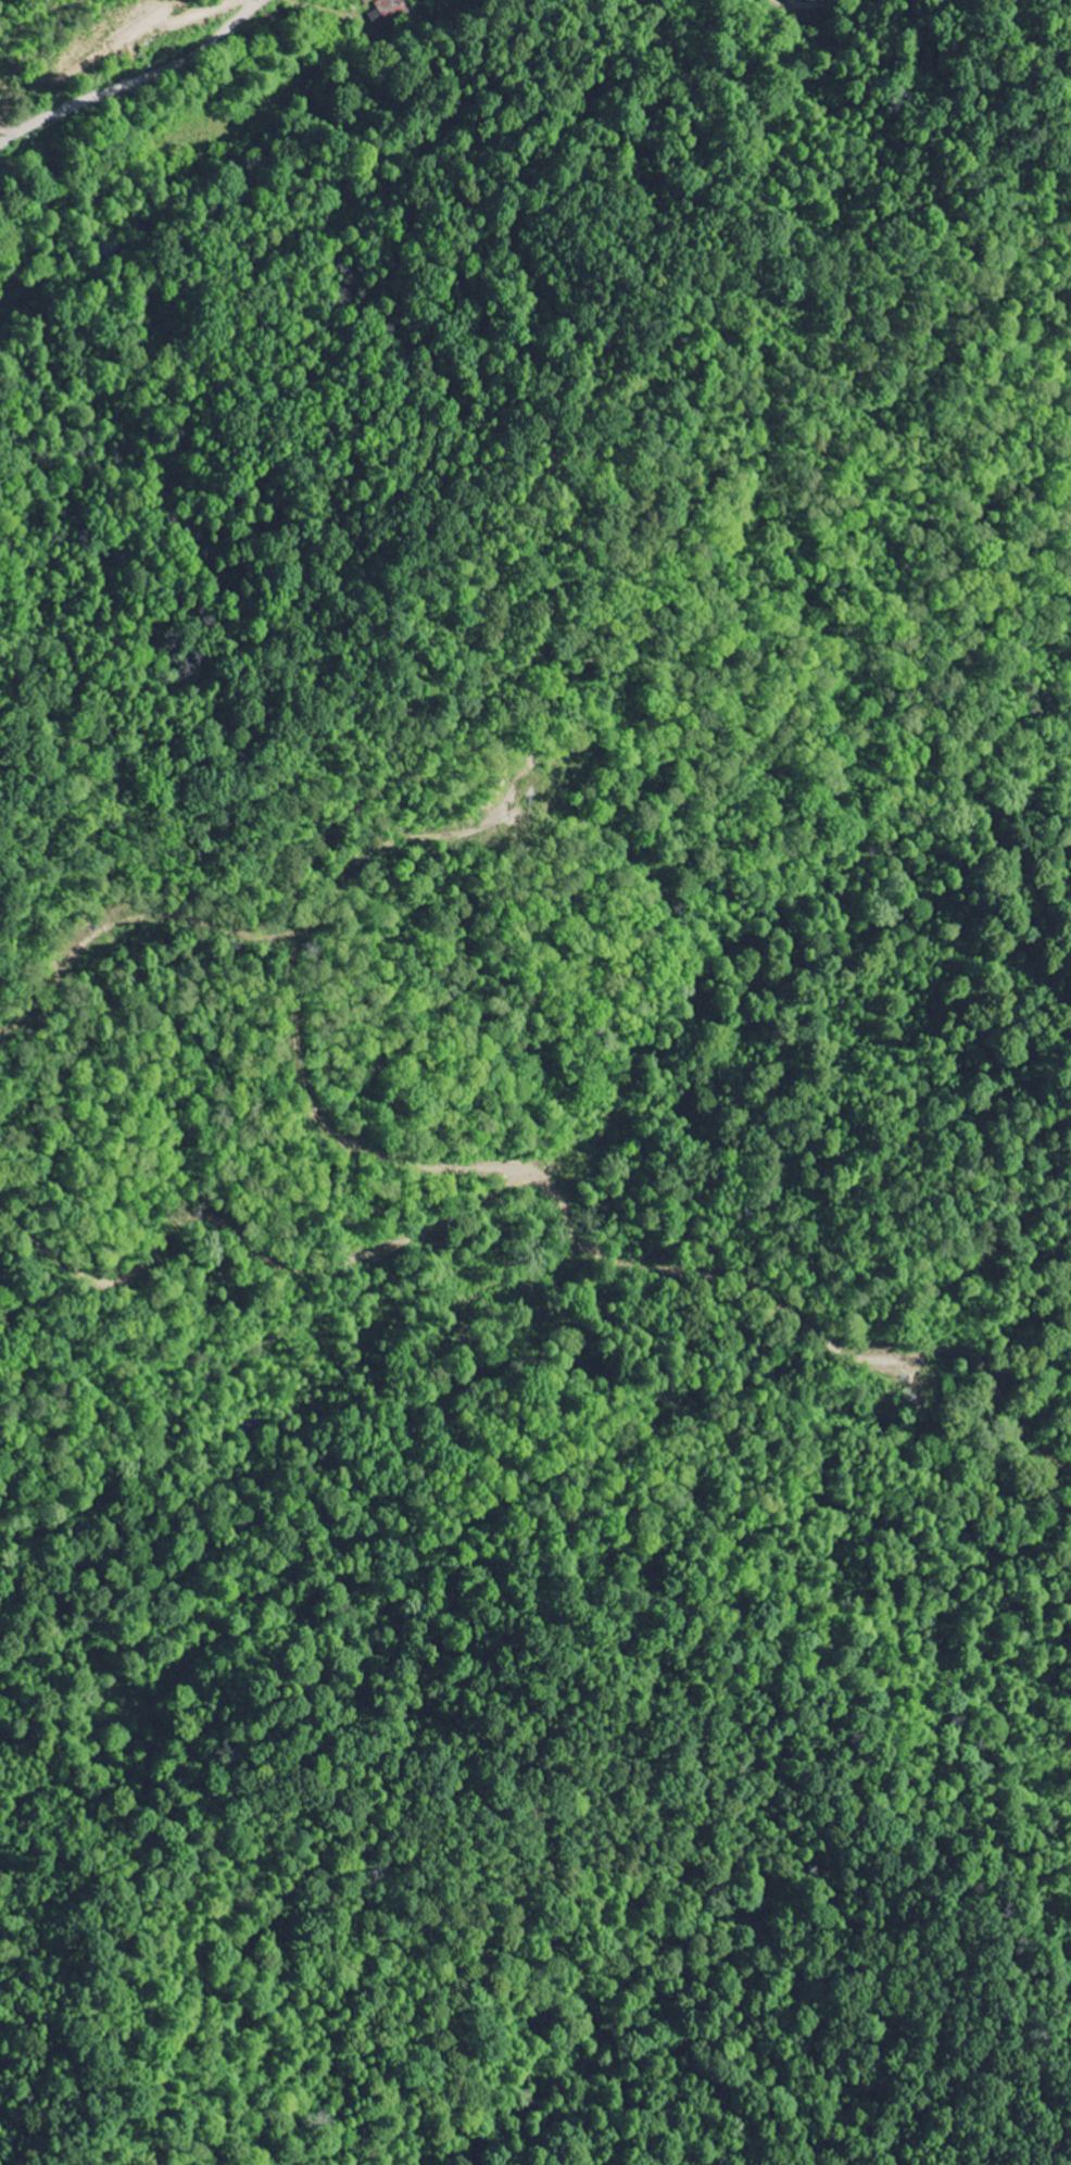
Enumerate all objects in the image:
road: (139, 80)
road: (289, 941)
road: (1067, 1079)
road: (820, 1340)

